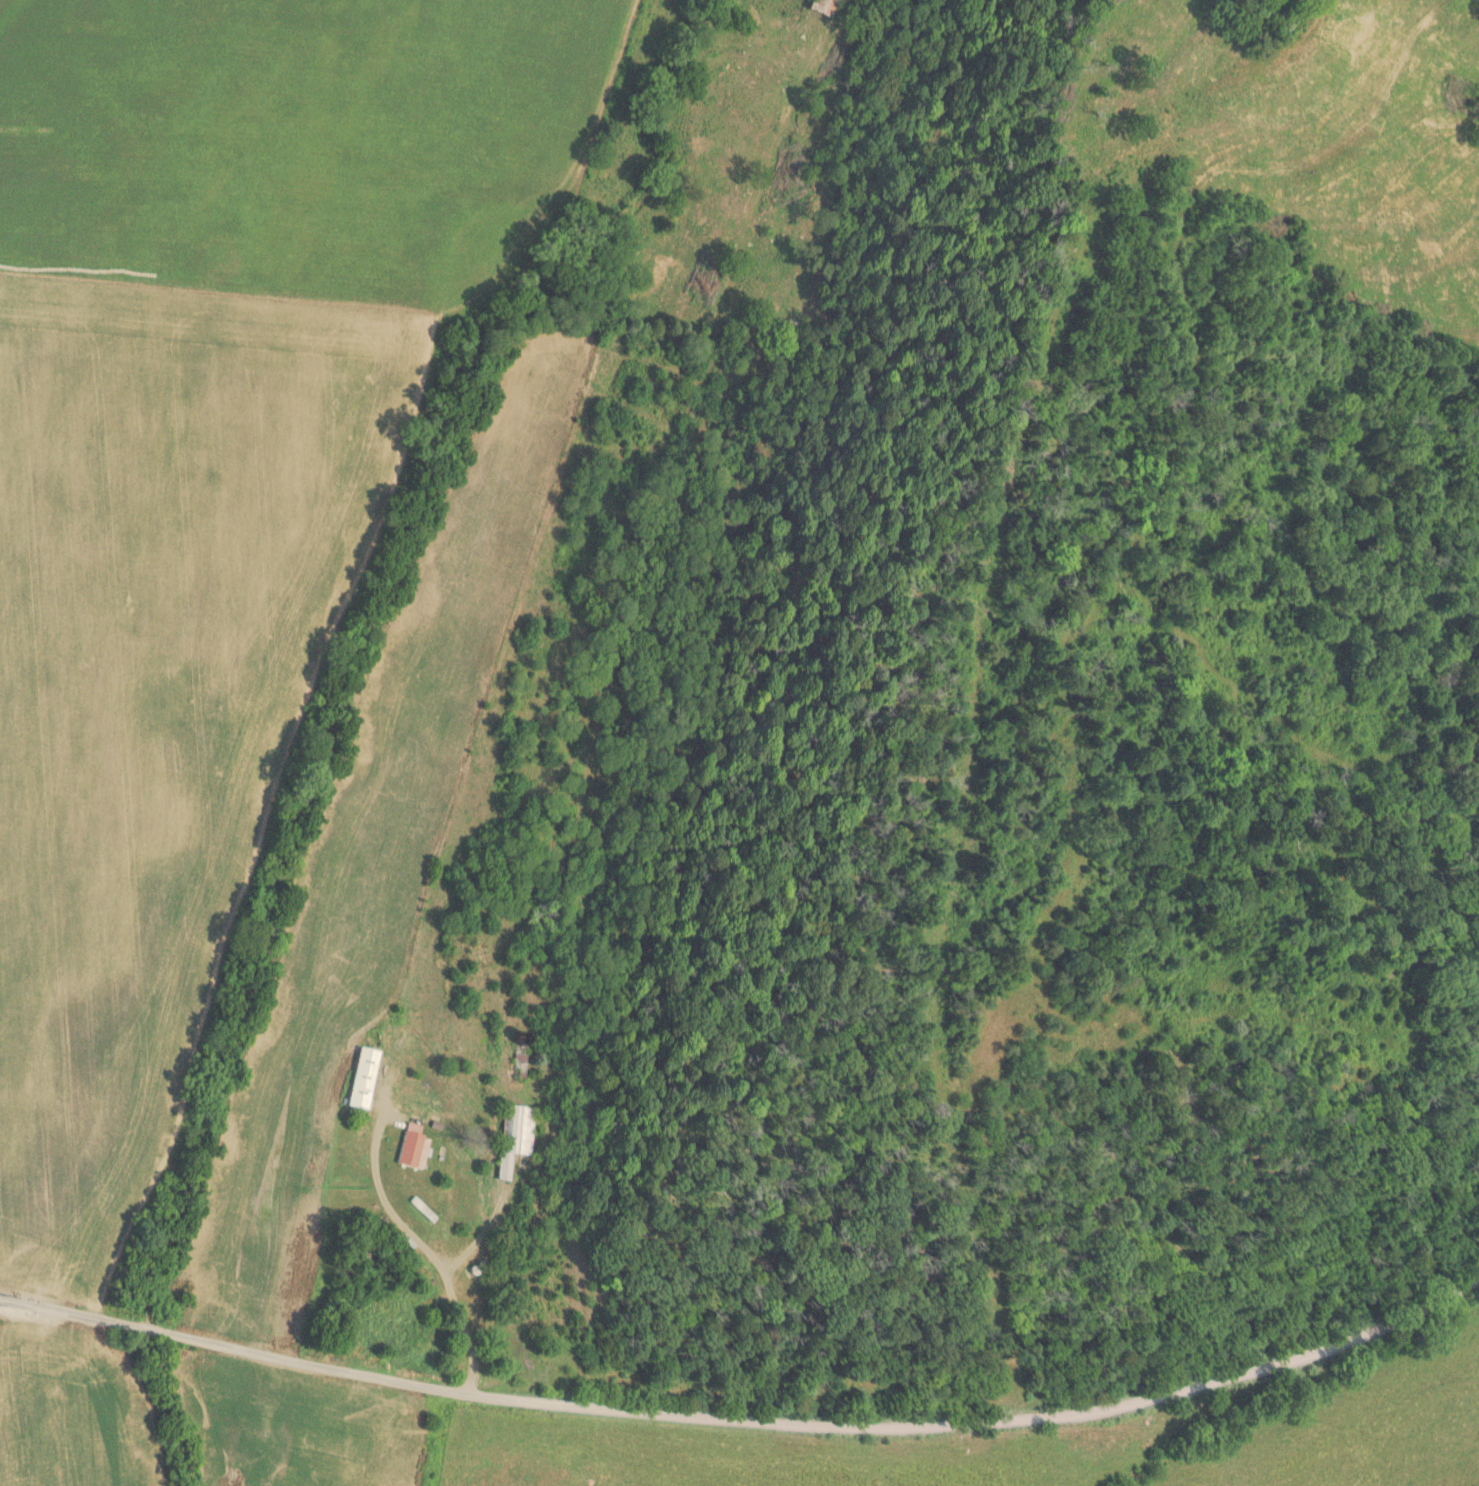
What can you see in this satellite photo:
building: (824, 6)
building: (364, 1078)
building: (515, 1136)
building: (414, 1147)
road: (383, 1191)
building: (426, 1211)
building: (369, 1257)
road: (95, 1317)
road: (845, 1424)

